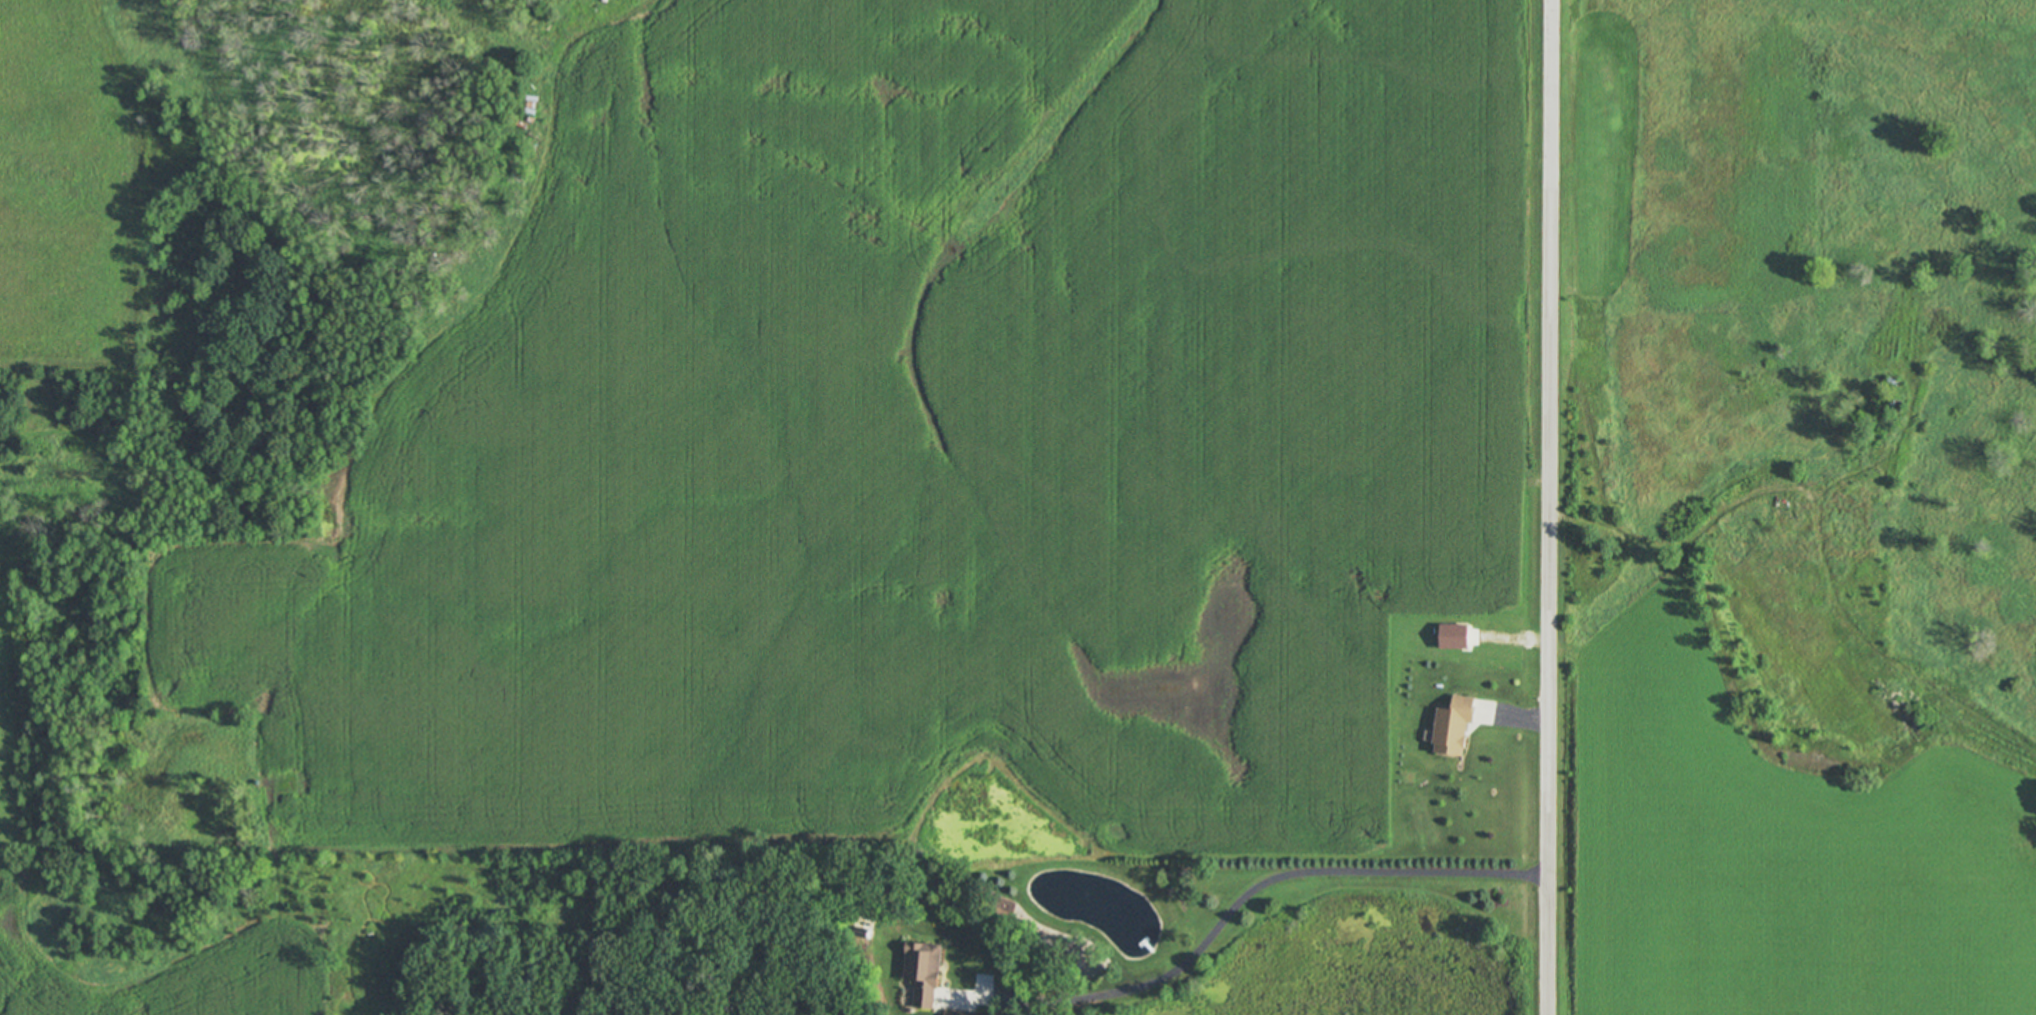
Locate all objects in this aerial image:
road: (1550, 507)
building: (1454, 637)
road: (1521, 718)
building: (1453, 727)
road: (1235, 913)
building: (924, 974)
building: (960, 1013)

